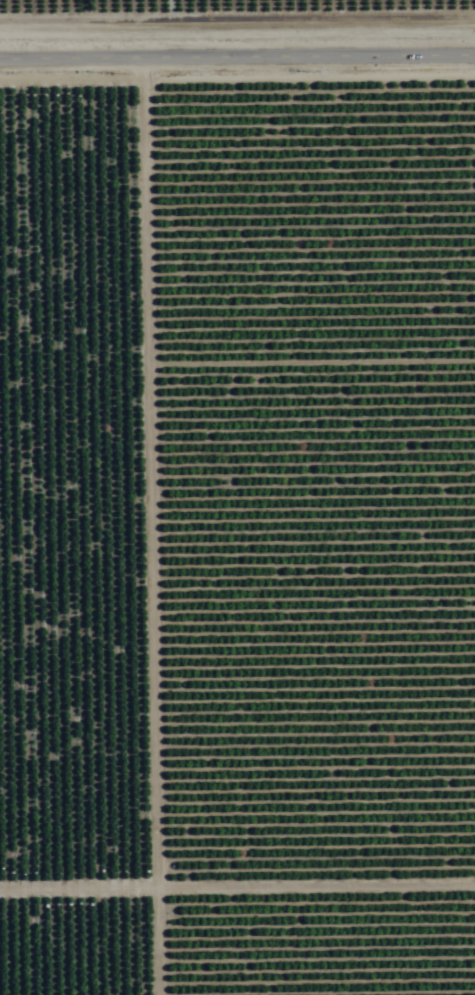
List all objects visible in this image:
road: (237, 57)
crop: (237, 497)

